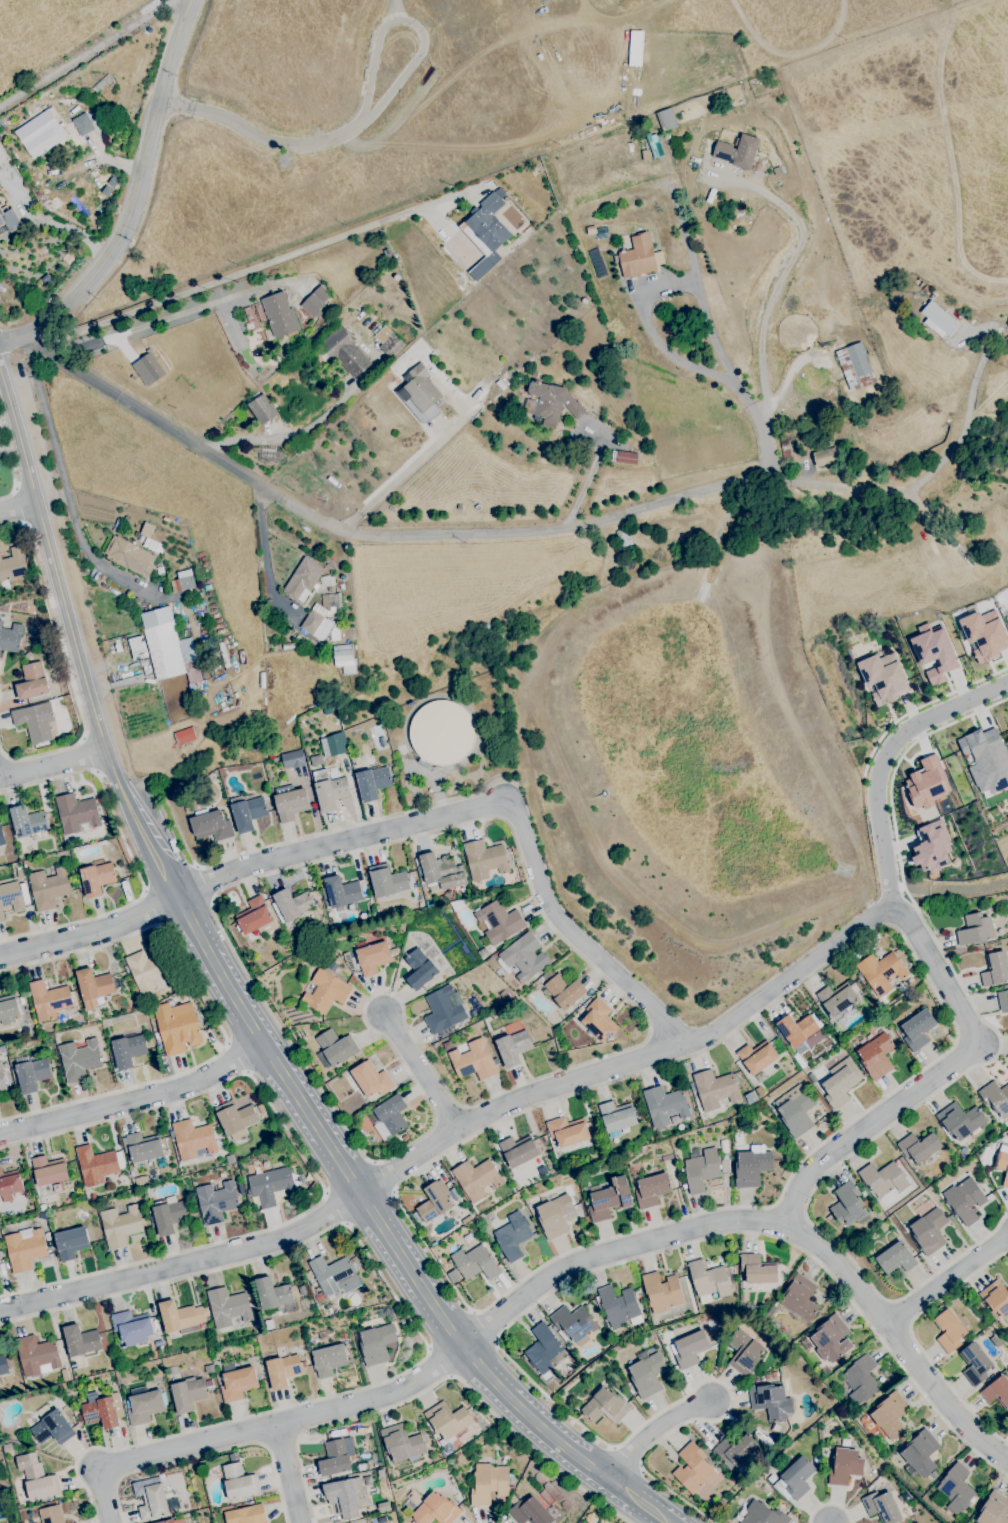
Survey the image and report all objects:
road: (392, 10)
road: (189, 41)
road: (92, 49)
road: (410, 66)
road: (170, 102)
road: (175, 105)
building: (82, 124)
building: (41, 130)
road: (329, 140)
building: (737, 151)
building: (2, 156)
road: (151, 182)
road: (134, 199)
building: (9, 220)
building: (491, 222)
building: (637, 257)
road: (253, 269)
road: (782, 275)
building: (925, 289)
building: (314, 301)
road: (642, 312)
building: (279, 314)
building: (939, 320)
building: (387, 341)
building: (345, 351)
building: (858, 360)
building: (147, 369)
building: (420, 393)
building: (553, 403)
building: (261, 409)
road: (302, 431)
building: (785, 448)
building: (626, 458)
building: (826, 458)
road: (11, 465)
road: (407, 468)
road: (589, 473)
road: (62, 479)
road: (921, 480)
road: (18, 507)
road: (20, 507)
road: (402, 534)
building: (841, 534)
building: (129, 555)
building: (12, 568)
building: (302, 580)
building: (182, 581)
road: (58, 585)
building: (319, 617)
building: (984, 634)
building: (11, 638)
building: (168, 647)
building: (137, 648)
building: (934, 651)
building: (343, 658)
road: (66, 663)
building: (882, 678)
building: (33, 682)
building: (64, 701)
building: (35, 721)
building: (442, 733)
building: (184, 736)
building: (335, 744)
road: (876, 744)
building: (293, 759)
building: (986, 759)
building: (316, 760)
road: (885, 761)
road: (53, 764)
road: (895, 764)
road: (436, 779)
building: (374, 783)
building: (926, 784)
building: (329, 790)
building: (290, 802)
road: (491, 806)
building: (248, 812)
building: (77, 814)
building: (28, 822)
building: (212, 826)
road: (535, 831)
building: (2, 838)
road: (150, 845)
building: (930, 848)
road: (131, 857)
building: (485, 860)
building: (442, 871)
building: (97, 878)
building: (387, 881)
road: (202, 884)
building: (49, 888)
building: (341, 892)
building: (11, 898)
building: (422, 903)
building: (293, 904)
building: (457, 905)
road: (152, 908)
building: (256, 919)
building: (498, 923)
road: (194, 926)
building: (332, 926)
road: (90, 930)
building: (976, 930)
building: (372, 957)
building: (522, 957)
building: (350, 965)
building: (332, 966)
building: (420, 969)
building: (995, 969)
building: (149, 970)
building: (881, 972)
building: (548, 975)
road: (941, 976)
building: (93, 987)
building: (565, 991)
building: (326, 992)
building: (838, 999)
building: (49, 1000)
road: (235, 1000)
building: (1003, 1000)
building: (8, 1009)
building: (444, 1011)
building: (103, 1012)
building: (94, 1017)
road: (213, 1017)
building: (599, 1021)
building: (830, 1022)
building: (177, 1027)
building: (40, 1030)
building: (798, 1030)
building: (917, 1030)
road: (952, 1044)
building: (447, 1046)
building: (513, 1048)
building: (335, 1049)
building: (128, 1050)
building: (876, 1055)
building: (757, 1057)
road: (238, 1058)
building: (80, 1059)
building: (474, 1061)
road: (279, 1069)
road: (424, 1072)
building: (31, 1073)
building: (2, 1080)
building: (371, 1080)
building: (819, 1086)
building: (839, 1087)
road: (512, 1089)
building: (715, 1090)
building: (996, 1099)
road: (135, 1103)
building: (665, 1105)
building: (261, 1109)
building: (795, 1110)
building: (389, 1115)
building: (236, 1117)
building: (598, 1117)
building: (617, 1117)
building: (961, 1121)
road: (315, 1123)
building: (568, 1131)
road: (454, 1133)
building: (194, 1139)
building: (920, 1146)
building: (142, 1148)
road: (858, 1149)
building: (519, 1151)
building: (785, 1155)
building: (667, 1158)
building: (230, 1159)
building: (1002, 1163)
building: (98, 1164)
building: (725, 1166)
road: (310, 1168)
building: (751, 1168)
building: (701, 1169)
building: (49, 1170)
road: (349, 1176)
road: (383, 1178)
building: (476, 1178)
building: (883, 1179)
building: (125, 1180)
building: (141, 1180)
building: (683, 1184)
building: (10, 1185)
building: (271, 1186)
building: (240, 1188)
building: (652, 1190)
building: (609, 1199)
building: (965, 1200)
building: (216, 1201)
building: (435, 1203)
building: (849, 1205)
building: (43, 1207)
road: (335, 1207)
building: (81, 1216)
building: (169, 1216)
road: (374, 1216)
building: (416, 1216)
building: (555, 1216)
road: (738, 1219)
building: (44, 1222)
building: (120, 1226)
building: (929, 1231)
building: (47, 1235)
building: (513, 1236)
building: (71, 1243)
building: (25, 1248)
building: (896, 1258)
building: (475, 1263)
building: (758, 1270)
road: (410, 1272)
building: (335, 1276)
building: (709, 1281)
road: (950, 1283)
building: (302, 1290)
building: (744, 1290)
building: (318, 1291)
building: (662, 1292)
building: (274, 1294)
building: (996, 1298)
building: (799, 1299)
road: (539, 1301)
building: (619, 1306)
building: (228, 1307)
building: (753, 1308)
building: (773, 1311)
building: (994, 1315)
building: (181, 1316)
building: (817, 1318)
building: (655, 1320)
road: (410, 1321)
building: (270, 1324)
building: (574, 1324)
building: (132, 1327)
road: (483, 1327)
road: (450, 1330)
building: (950, 1331)
building: (323, 1335)
building: (343, 1336)
road: (899, 1338)
building: (832, 1339)
building: (81, 1341)
road: (915, 1341)
building: (158, 1343)
building: (377, 1344)
building: (543, 1349)
building: (690, 1349)
building: (666, 1352)
building: (745, 1353)
building: (37, 1356)
building: (329, 1360)
building: (78, 1361)
road: (438, 1362)
building: (975, 1364)
building: (4, 1365)
road: (482, 1368)
building: (209, 1369)
building: (172, 1370)
building: (283, 1370)
building: (647, 1374)
building: (64, 1375)
building: (774, 1375)
building: (756, 1376)
building: (768, 1376)
road: (441, 1379)
building: (860, 1379)
building: (237, 1381)
building: (164, 1383)
building: (208, 1385)
building: (628, 1385)
building: (621, 1391)
building: (997, 1392)
building: (188, 1394)
building: (769, 1401)
building: (1, 1406)
building: (145, 1406)
building: (605, 1406)
building: (102, 1410)
building: (890, 1415)
building: (80, 1417)
building: (448, 1419)
road: (533, 1421)
building: (52, 1426)
road: (259, 1427)
road: (652, 1431)
road: (298, 1436)
building: (334, 1436)
road: (281, 1439)
building: (902, 1439)
building: (33, 1442)
building: (845, 1443)
building: (403, 1444)
road: (265, 1446)
building: (448, 1447)
road: (613, 1448)
building: (736, 1449)
building: (921, 1453)
road: (208, 1454)
building: (335, 1458)
road: (626, 1458)
building: (232, 1459)
building: (14, 1460)
road: (640, 1466)
road: (591, 1467)
building: (845, 1467)
building: (694, 1469)
road: (288, 1472)
building: (381, 1473)
road: (108, 1474)
building: (795, 1479)
road: (118, 1481)
building: (38, 1482)
building: (239, 1482)
building: (489, 1483)
building: (871, 1488)
building: (956, 1488)
building: (347, 1494)
building: (156, 1502)
road: (639, 1502)
road: (829, 1503)
building: (384, 1507)
building: (882, 1507)
building: (994, 1509)
building: (436, 1510)
building: (529, 1511)
building: (51, 1514)
building: (247, 1515)
building: (760, 1515)
building: (179, 1521)

